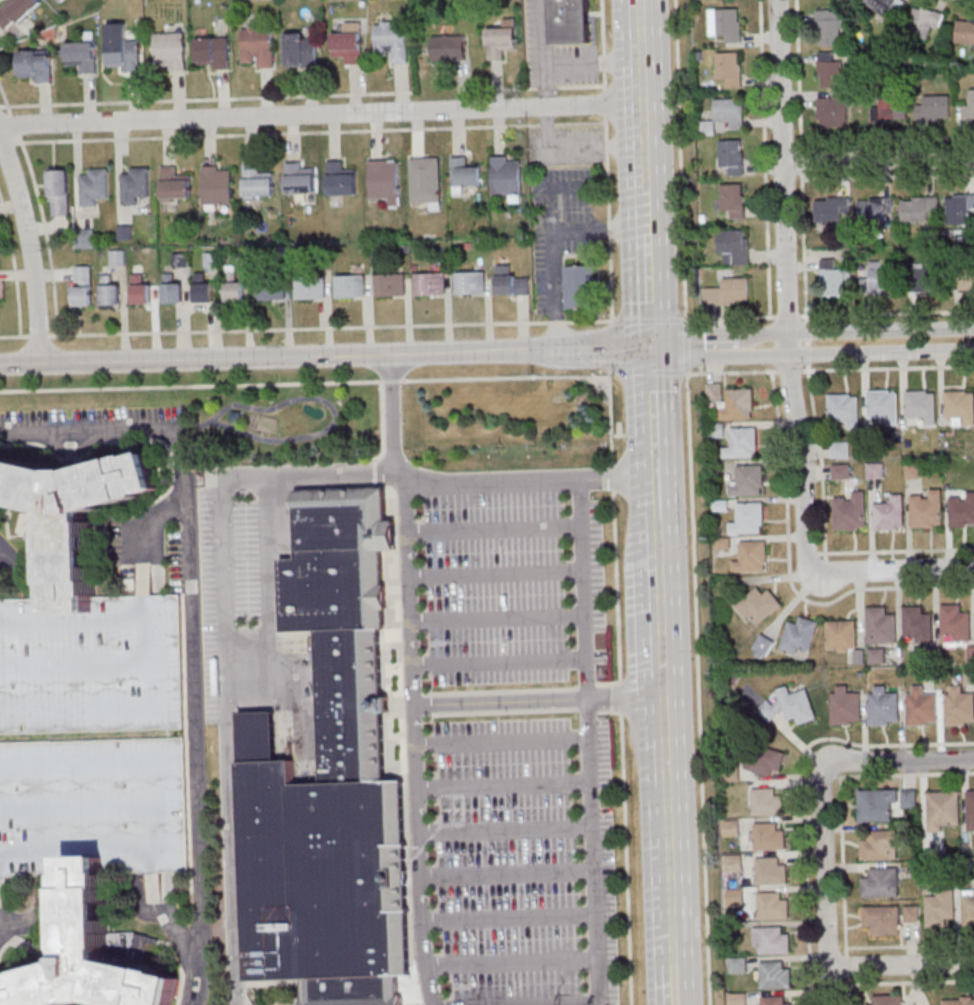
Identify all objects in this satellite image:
building: (62, 0)
building: (886, 7)
building: (16, 12)
building: (570, 21)
building: (924, 23)
building: (726, 24)
building: (829, 27)
building: (965, 33)
building: (502, 39)
building: (392, 40)
building: (349, 42)
building: (257, 46)
building: (449, 47)
building: (300, 49)
building: (170, 50)
building: (213, 52)
road: (543, 53)
building: (124, 54)
building: (82, 55)
road: (594, 64)
building: (36, 65)
building: (729, 68)
building: (830, 70)
road: (645, 94)
road: (210, 100)
building: (933, 108)
building: (968, 108)
building: (888, 109)
building: (833, 110)
building: (730, 112)
road: (322, 114)
road: (379, 130)
road: (575, 147)
building: (732, 155)
road: (878, 156)
building: (464, 176)
building: (299, 177)
building: (505, 177)
building: (340, 178)
building: (424, 180)
building: (256, 181)
building: (384, 181)
building: (174, 184)
building: (217, 184)
building: (135, 185)
building: (93, 186)
building: (59, 192)
building: (875, 207)
building: (918, 207)
building: (959, 208)
road: (648, 209)
building: (831, 210)
building: (85, 238)
road: (551, 242)
building: (734, 246)
road: (30, 250)
building: (180, 259)
building: (212, 259)
building: (964, 273)
building: (922, 278)
building: (834, 280)
building: (879, 280)
building: (512, 282)
building: (470, 283)
building: (390, 284)
building: (82, 285)
building: (351, 285)
building: (430, 285)
road: (785, 285)
building: (581, 286)
building: (270, 287)
building: (310, 287)
building: (172, 289)
building: (203, 289)
building: (234, 289)
road: (649, 289)
building: (110, 290)
building: (141, 290)
building: (729, 292)
road: (486, 322)
road: (859, 330)
road: (700, 346)
traffic signals: (650, 348)
road: (861, 350)
road: (325, 356)
road: (304, 383)
building: (739, 404)
building: (883, 405)
building: (921, 405)
building: (960, 405)
building: (843, 409)
road: (652, 410)
building: (743, 443)
building: (840, 449)
building: (875, 470)
building: (840, 471)
building: (913, 472)
road: (784, 473)
road: (307, 477)
building: (748, 481)
road: (467, 483)
road: (656, 493)
road: (691, 502)
building: (927, 510)
building: (961, 511)
building: (850, 512)
building: (890, 513)
road: (148, 518)
building: (749, 518)
road: (10, 557)
building: (752, 557)
road: (582, 566)
road: (892, 571)
road: (408, 587)
building: (758, 605)
building: (955, 622)
building: (917, 623)
building: (880, 626)
road: (190, 629)
building: (800, 635)
building: (841, 635)
building: (762, 646)
building: (876, 656)
road: (520, 657)
building: (969, 676)
road: (620, 685)
road: (537, 699)
building: (790, 706)
building: (883, 706)
building: (958, 706)
building: (845, 707)
building: (921, 707)
building: (89, 733)
road: (228, 744)
road: (663, 759)
road: (898, 759)
building: (763, 760)
building: (327, 778)
road: (801, 789)
road: (838, 794)
building: (909, 799)
building: (766, 802)
building: (876, 805)
building: (942, 809)
building: (970, 810)
building: (732, 827)
road: (506, 828)
building: (768, 836)
building: (881, 845)
road: (421, 854)
building: (734, 863)
building: (770, 871)
road: (508, 875)
building: (881, 882)
road: (824, 884)
road: (594, 896)
building: (771, 906)
building: (940, 908)
building: (969, 908)
building: (912, 913)
building: (882, 919)
building: (773, 941)
road: (880, 947)
road: (900, 964)
building: (774, 976)
road: (910, 983)
building: (738, 999)
building: (888, 1000)
building: (773, 1001)
building: (958, 1001)

